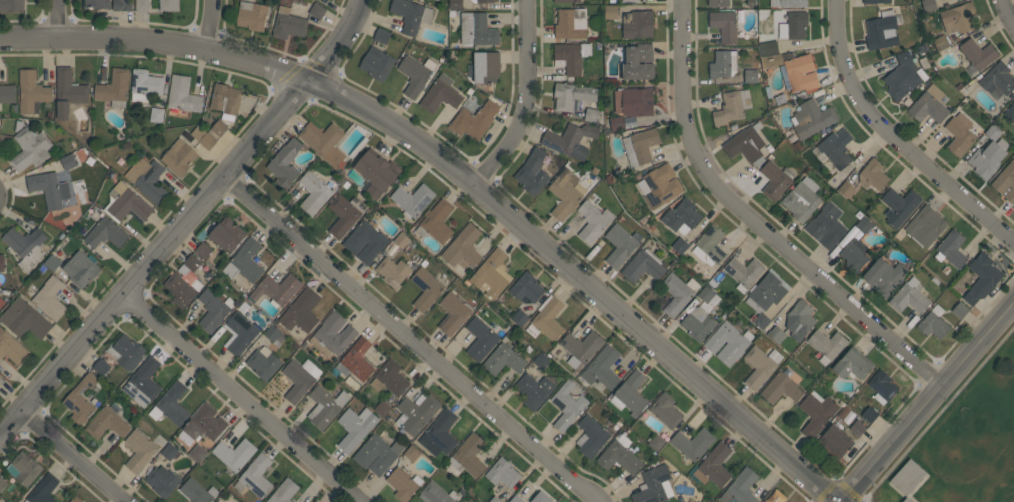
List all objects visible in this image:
building: (631, 0)
building: (481, 1)
building: (566, 1)
building: (876, 1)
building: (718, 3)
building: (788, 3)
building: (96, 4)
building: (455, 4)
building: (11, 5)
building: (121, 5)
building: (142, 5)
building: (168, 5)
building: (928, 5)
building: (317, 10)
road: (1009, 11)
building: (611, 12)
building: (252, 15)
building: (411, 15)
building: (957, 18)
road: (58, 19)
building: (288, 23)
building: (638, 23)
road: (212, 24)
building: (570, 24)
building: (724, 24)
building: (794, 25)
building: (477, 29)
building: (881, 30)
building: (382, 35)
building: (940, 42)
building: (768, 48)
building: (978, 53)
building: (572, 56)
building: (771, 60)
building: (639, 62)
building: (376, 63)
building: (723, 64)
building: (485, 67)
building: (799, 73)
building: (415, 74)
building: (750, 75)
building: (902, 76)
building: (997, 80)
building: (144, 85)
building: (114, 88)
building: (31, 91)
building: (68, 92)
building: (7, 93)
building: (183, 94)
building: (441, 94)
building: (571, 95)
building: (225, 100)
building: (634, 101)
road: (531, 102)
building: (929, 105)
building: (732, 106)
building: (1010, 112)
building: (156, 115)
building: (591, 115)
building: (811, 118)
building: (474, 120)
building: (617, 123)
building: (219, 128)
building: (993, 132)
building: (959, 133)
building: (203, 137)
road: (895, 138)
building: (570, 140)
building: (324, 141)
building: (746, 144)
building: (640, 146)
building: (30, 148)
building: (834, 149)
building: (179, 156)
building: (988, 158)
building: (68, 161)
building: (285, 163)
building: (532, 172)
building: (376, 173)
building: (872, 174)
road: (462, 175)
building: (147, 179)
building: (774, 180)
building: (1005, 182)
building: (659, 185)
building: (49, 188)
building: (846, 189)
building: (565, 192)
building: (314, 193)
building: (412, 199)
building: (802, 199)
building: (125, 203)
building: (899, 205)
building: (344, 213)
building: (682, 215)
road: (186, 220)
building: (593, 221)
road: (758, 221)
building: (436, 222)
building: (826, 225)
building: (864, 225)
building: (925, 225)
building: (105, 233)
building: (227, 234)
building: (401, 240)
building: (365, 241)
building: (620, 244)
building: (25, 245)
building: (680, 245)
building: (709, 245)
building: (463, 247)
building: (951, 249)
building: (203, 250)
building: (854, 254)
building: (245, 261)
building: (52, 262)
building: (191, 262)
building: (1, 263)
building: (643, 267)
building: (81, 269)
building: (392, 271)
building: (744, 272)
building: (492, 274)
building: (884, 276)
building: (982, 278)
building: (183, 286)
building: (526, 287)
building: (426, 288)
building: (276, 289)
building: (677, 293)
building: (766, 293)
building: (909, 297)
building: (50, 298)
building: (1, 302)
building: (213, 309)
building: (960, 309)
building: (301, 310)
building: (453, 313)
building: (700, 316)
building: (519, 317)
building: (24, 319)
building: (547, 319)
building: (761, 320)
building: (799, 320)
building: (933, 322)
building: (241, 332)
building: (272, 333)
building: (776, 334)
building: (332, 335)
building: (482, 337)
road: (413, 338)
building: (728, 342)
building: (828, 343)
building: (11, 347)
building: (581, 347)
building: (126, 351)
building: (504, 359)
building: (356, 360)
building: (541, 360)
building: (263, 362)
building: (853, 364)
building: (760, 365)
building: (101, 367)
building: (602, 368)
building: (389, 378)
building: (299, 379)
building: (1, 381)
building: (143, 382)
building: (882, 386)
building: (781, 388)
building: (534, 390)
building: (630, 394)
road: (244, 396)
building: (80, 399)
road: (928, 402)
building: (170, 404)
building: (567, 405)
building: (325, 406)
building: (382, 408)
building: (666, 410)
building: (416, 412)
building: (817, 413)
building: (869, 414)
building: (107, 423)
building: (203, 425)
building: (355, 427)
building: (857, 428)
building: (439, 434)
building: (592, 436)
building: (836, 440)
building: (656, 442)
building: (692, 443)
building: (139, 449)
building: (169, 451)
building: (197, 452)
building: (234, 453)
building: (411, 453)
building: (377, 454)
building: (468, 455)
building: (619, 455)
road: (74, 456)
building: (714, 466)
building: (24, 468)
building: (503, 473)
building: (255, 476)
building: (907, 477)
building: (162, 480)
building: (2, 483)
building: (403, 484)
building: (654, 485)
building: (740, 487)
building: (43, 489)
building: (197, 491)
building: (284, 491)
building: (436, 493)
building: (775, 496)
building: (541, 498)
building: (75, 499)
building: (494, 499)
building: (516, 499)
building: (906, 500)
building: (217, 501)
building: (315, 501)

